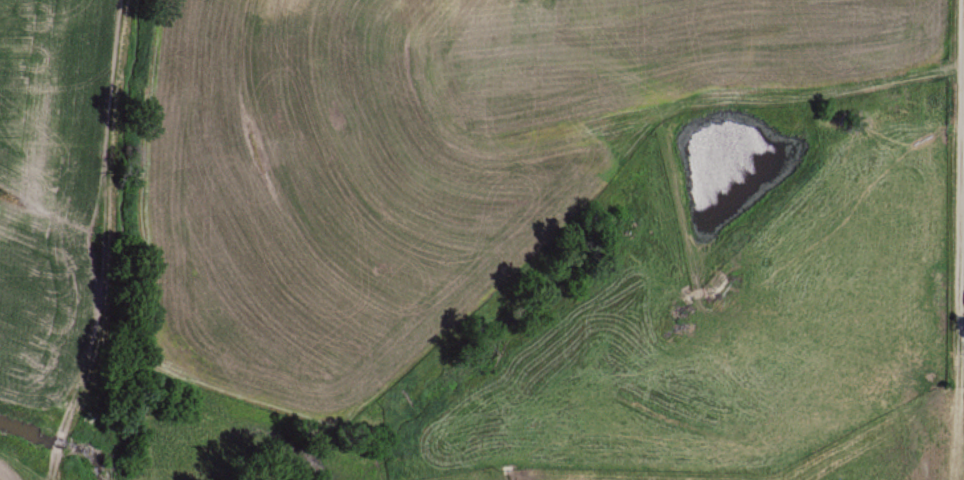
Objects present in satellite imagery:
road: (960, 145)

